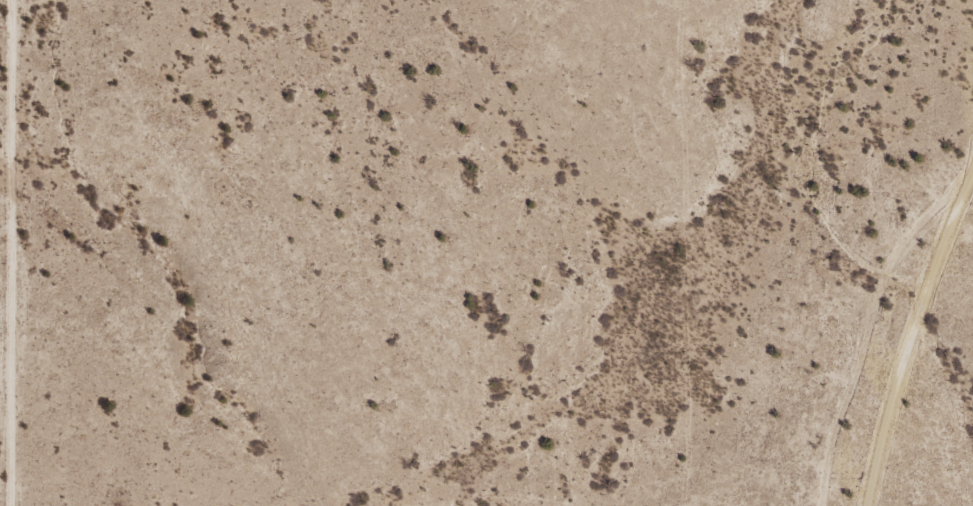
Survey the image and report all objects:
road: (890, 330)

